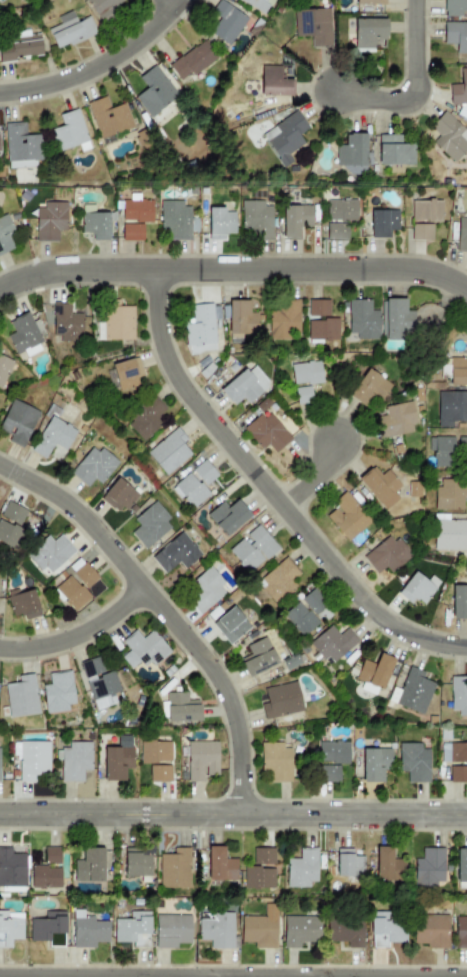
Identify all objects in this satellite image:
building: (370, 2)
road: (163, 4)
building: (258, 5)
building: (454, 7)
building: (103, 8)
building: (226, 22)
building: (313, 26)
building: (70, 30)
building: (368, 31)
building: (456, 36)
building: (20, 49)
road: (414, 52)
building: (192, 60)
road: (96, 62)
building: (274, 82)
building: (459, 89)
building: (154, 91)
road: (371, 103)
building: (108, 117)
building: (68, 131)
building: (448, 136)
building: (284, 138)
building: (22, 146)
building: (394, 150)
building: (352, 154)
building: (341, 211)
building: (426, 211)
building: (135, 218)
building: (256, 219)
building: (176, 220)
building: (295, 220)
building: (50, 221)
building: (94, 223)
building: (219, 223)
building: (383, 223)
building: (336, 232)
building: (421, 232)
building: (462, 233)
building: (5, 235)
road: (233, 271)
building: (318, 308)
building: (362, 319)
building: (396, 319)
building: (241, 321)
building: (283, 321)
building: (118, 323)
building: (66, 324)
building: (323, 329)
building: (200, 330)
building: (24, 337)
building: (4, 369)
building: (458, 371)
building: (306, 373)
building: (127, 374)
building: (244, 386)
building: (369, 388)
building: (303, 395)
building: (451, 408)
building: (146, 419)
building: (396, 421)
building: (18, 422)
building: (266, 433)
building: (53, 438)
building: (445, 450)
building: (169, 452)
building: (93, 467)
road: (317, 476)
building: (195, 484)
building: (380, 487)
road: (273, 491)
building: (449, 495)
building: (119, 496)
building: (13, 514)
building: (349, 516)
building: (228, 517)
building: (150, 526)
building: (10, 534)
building: (450, 535)
building: (253, 549)
building: (176, 553)
building: (50, 555)
building: (387, 555)
building: (280, 580)
building: (76, 585)
building: (418, 588)
building: (205, 591)
building: (459, 602)
building: (23, 604)
road: (167, 610)
building: (305, 612)
building: (231, 625)
road: (79, 631)
building: (332, 644)
building: (143, 650)
building: (258, 657)
building: (374, 674)
building: (98, 679)
building: (414, 691)
building: (58, 693)
building: (459, 695)
building: (22, 697)
building: (281, 701)
building: (181, 708)
building: (155, 752)
building: (32, 760)
building: (201, 760)
building: (331, 760)
building: (74, 761)
building: (455, 761)
building: (414, 762)
building: (117, 763)
building: (278, 763)
building: (375, 764)
building: (160, 774)
road: (233, 814)
building: (52, 856)
building: (263, 856)
building: (137, 862)
building: (348, 863)
building: (219, 865)
building: (388, 865)
building: (89, 866)
building: (429, 867)
building: (175, 869)
building: (301, 869)
building: (12, 870)
building: (45, 876)
building: (258, 879)
building: (10, 928)
building: (260, 928)
building: (49, 929)
building: (133, 929)
building: (88, 931)
building: (172, 931)
building: (217, 931)
building: (300, 931)
building: (431, 931)
building: (345, 932)
building: (460, 933)
road: (145, 976)

